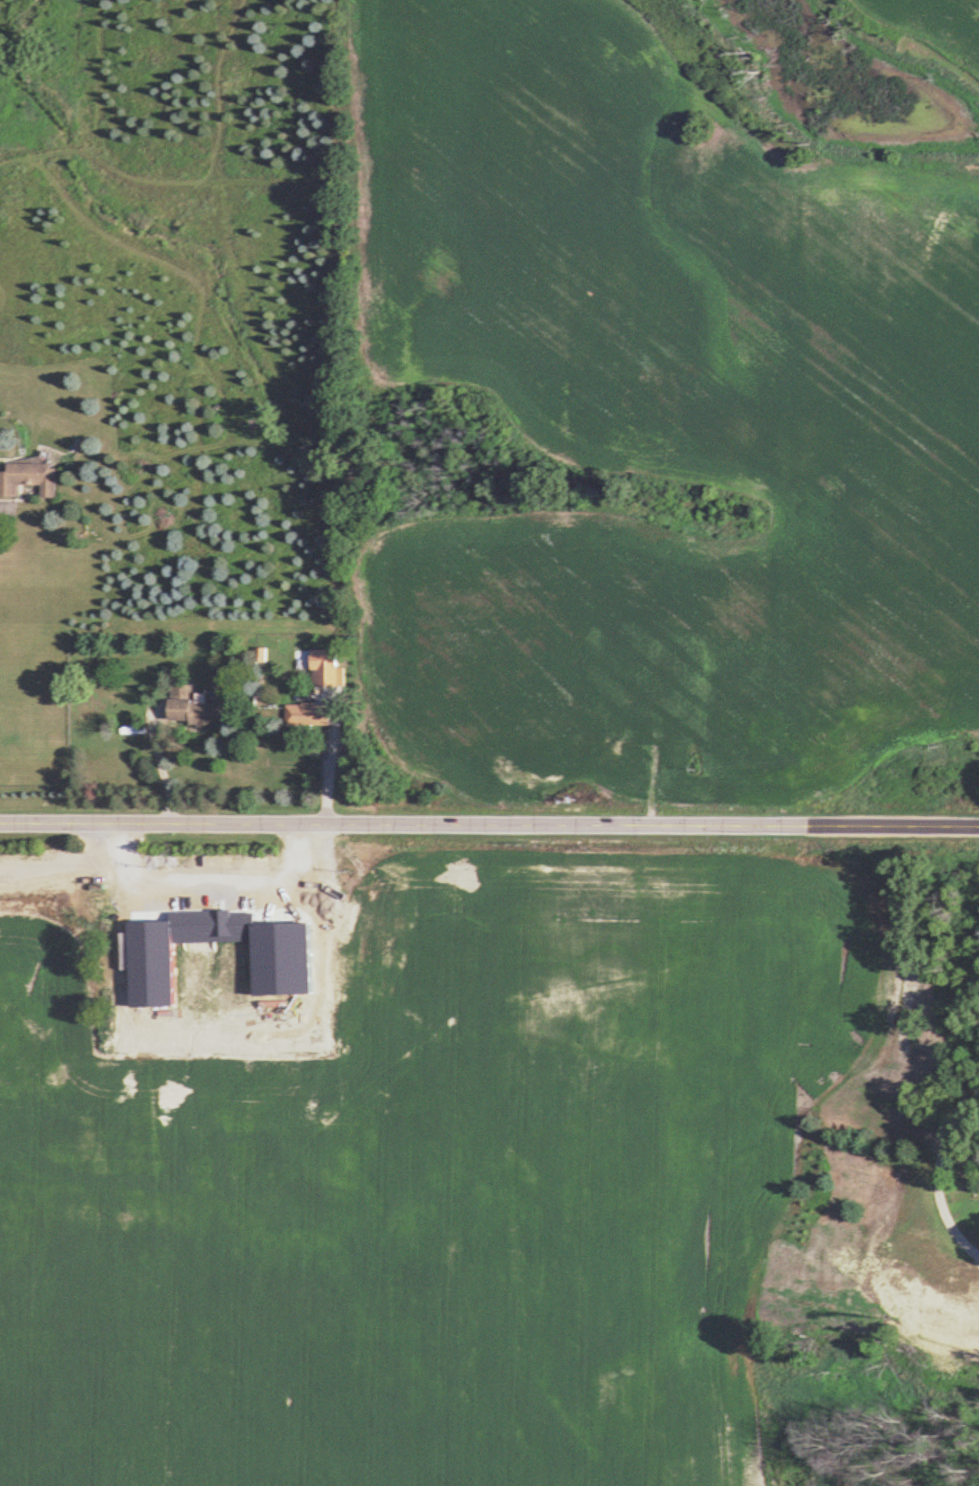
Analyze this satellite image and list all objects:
building: (29, 478)
building: (326, 668)
building: (194, 707)
building: (306, 713)
road: (328, 760)
road: (158, 765)
road: (489, 826)
road: (203, 869)
building: (117, 904)
building: (224, 923)
park: (488, 1164)
road: (939, 1173)

